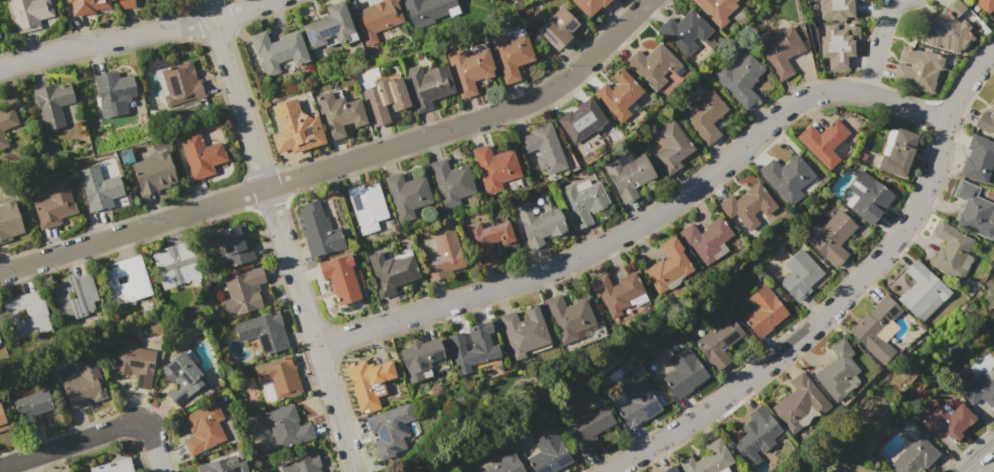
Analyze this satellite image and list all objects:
building: (123, 4)
building: (587, 5)
building: (984, 5)
building: (86, 7)
building: (717, 9)
building: (838, 9)
road: (238, 10)
building: (427, 11)
building: (27, 14)
building: (375, 17)
building: (327, 26)
building: (557, 28)
building: (944, 29)
building: (684, 31)
road: (104, 39)
building: (839, 43)
road: (876, 45)
building: (276, 49)
building: (779, 50)
building: (509, 53)
building: (653, 65)
building: (469, 69)
building: (917, 69)
building: (739, 77)
building: (670, 79)
building: (180, 82)
building: (425, 84)
building: (111, 91)
building: (619, 95)
building: (55, 98)
building: (382, 98)
building: (336, 113)
building: (703, 115)
building: (6, 118)
building: (579, 119)
building: (986, 120)
building: (293, 128)
building: (0, 139)
building: (824, 141)
building: (671, 146)
building: (544, 148)
building: (897, 151)
building: (199, 153)
building: (978, 159)
road: (338, 162)
building: (494, 167)
building: (151, 173)
building: (628, 176)
building: (787, 177)
building: (451, 182)
building: (97, 187)
building: (407, 195)
building: (867, 198)
building: (583, 200)
building: (53, 203)
building: (747, 205)
building: (367, 206)
building: (972, 210)
building: (8, 219)
road: (643, 221)
building: (539, 224)
building: (318, 229)
road: (279, 234)
building: (833, 237)
building: (487, 240)
building: (706, 240)
building: (234, 246)
building: (951, 250)
building: (443, 255)
building: (172, 266)
building: (667, 267)
building: (391, 272)
building: (799, 275)
building: (340, 278)
building: (126, 280)
building: (243, 292)
building: (921, 292)
building: (617, 293)
road: (841, 294)
building: (74, 296)
building: (763, 311)
building: (26, 315)
building: (569, 318)
building: (877, 328)
building: (263, 332)
building: (523, 332)
building: (719, 342)
building: (472, 345)
building: (420, 358)
building: (134, 362)
building: (838, 371)
building: (183, 372)
building: (684, 373)
building: (278, 378)
building: (369, 382)
building: (84, 383)
building: (980, 388)
building: (637, 403)
building: (799, 403)
building: (33, 406)
building: (2, 419)
building: (944, 419)
building: (286, 425)
building: (588, 427)
building: (204, 428)
building: (388, 428)
building: (756, 435)
road: (69, 444)
road: (152, 447)
building: (548, 454)
building: (914, 457)
building: (708, 459)
road: (984, 463)
building: (506, 464)
building: (220, 465)
building: (302, 465)
building: (113, 466)
building: (235, 469)
building: (671, 469)

